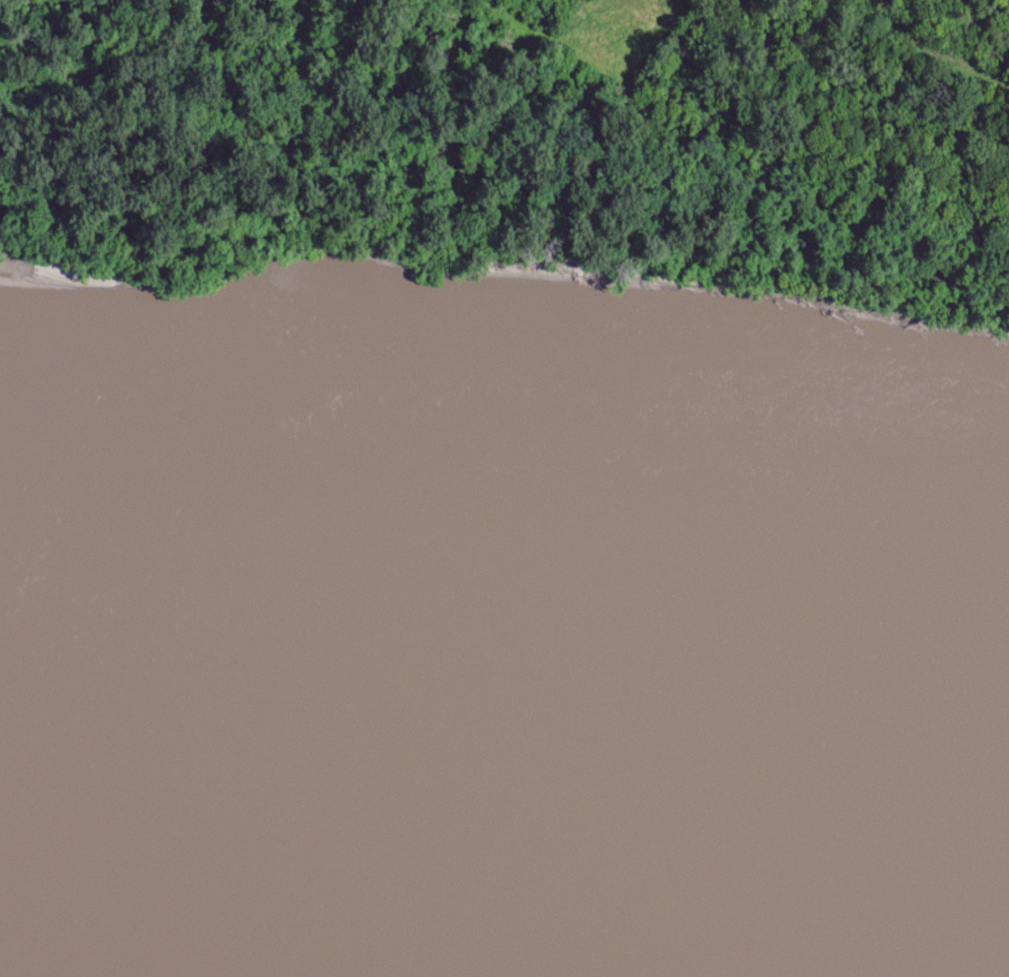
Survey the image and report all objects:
river: (504, 926)

